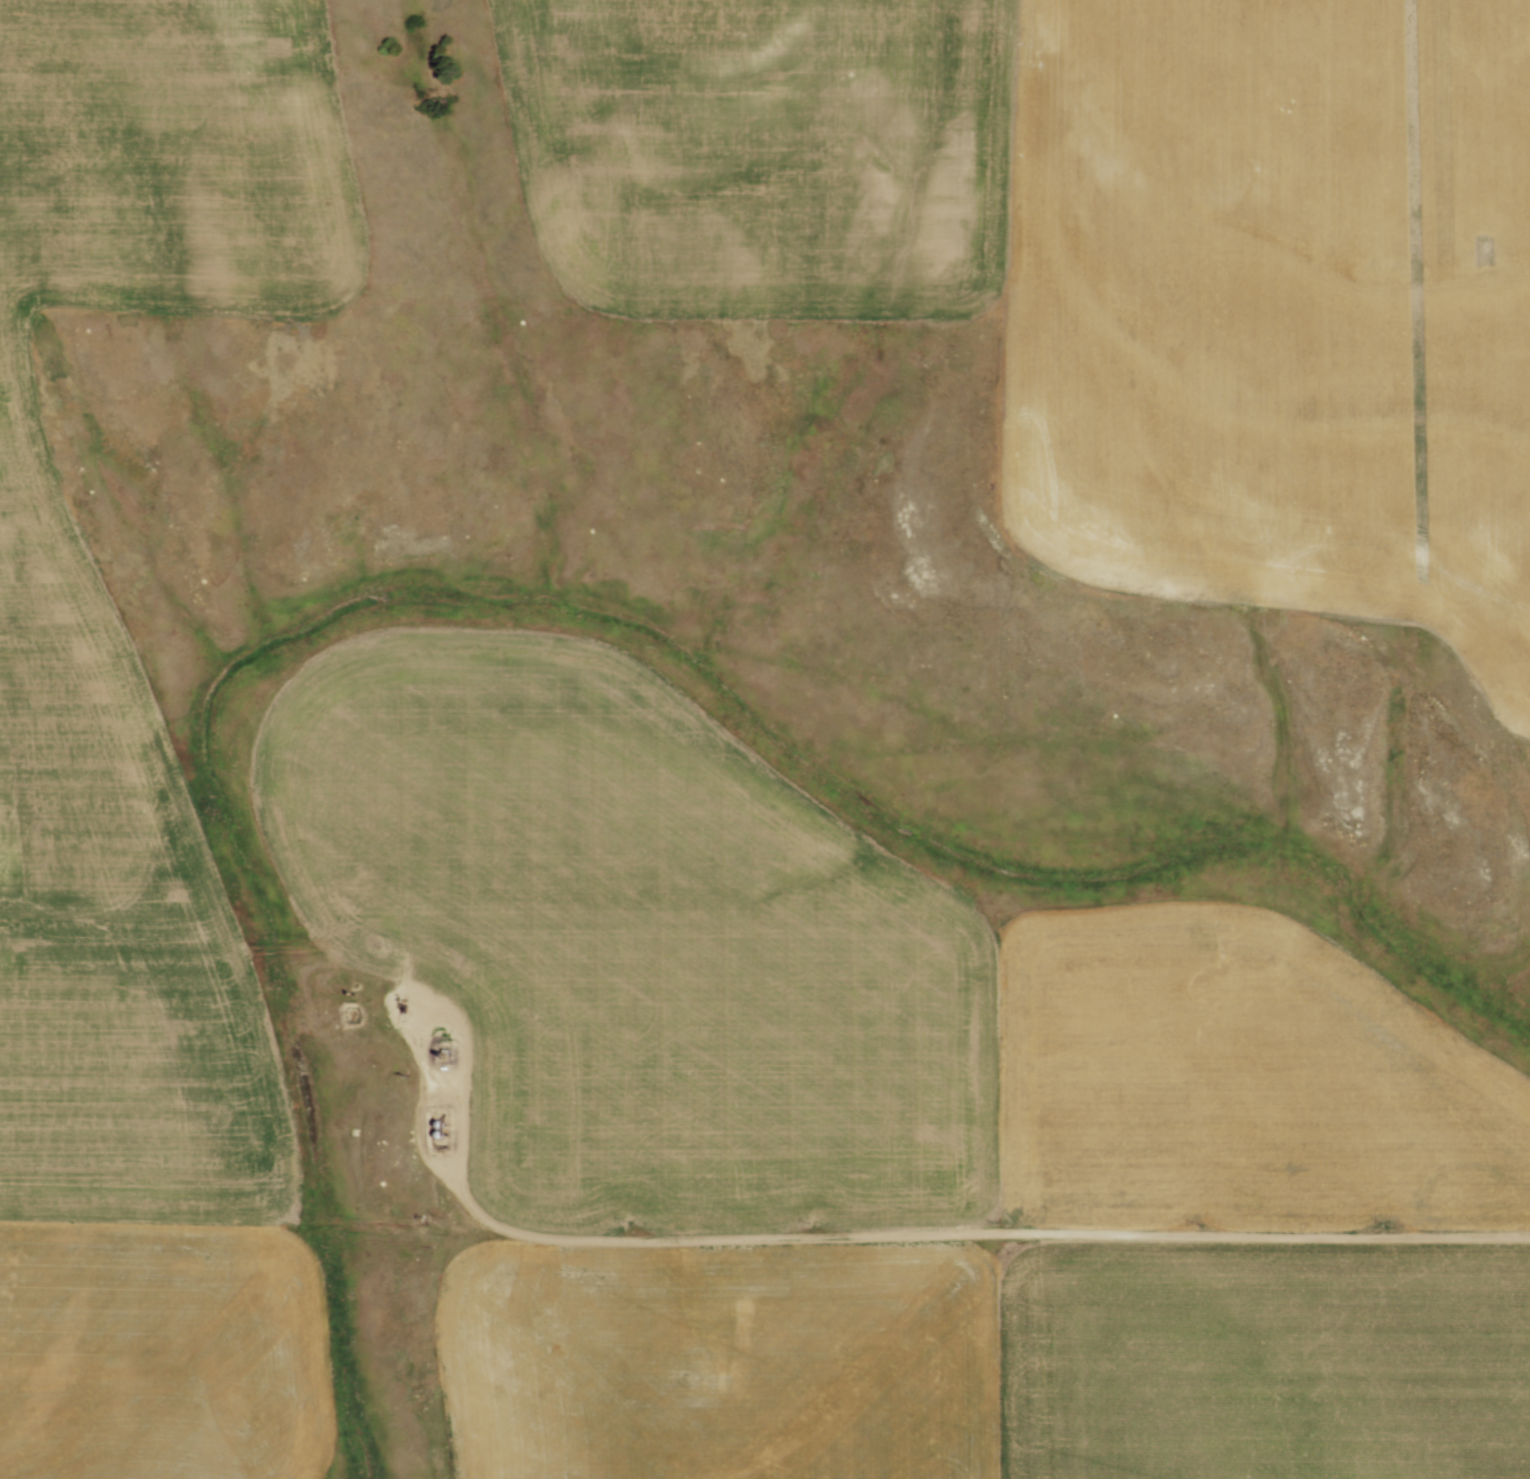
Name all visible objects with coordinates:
crop: (1110, 259)
crop: (142, 782)
crop: (831, 985)
petroleum well: (403, 997)
road: (460, 1078)
road: (421, 1144)
road: (1031, 1231)
crop: (991, 1361)

